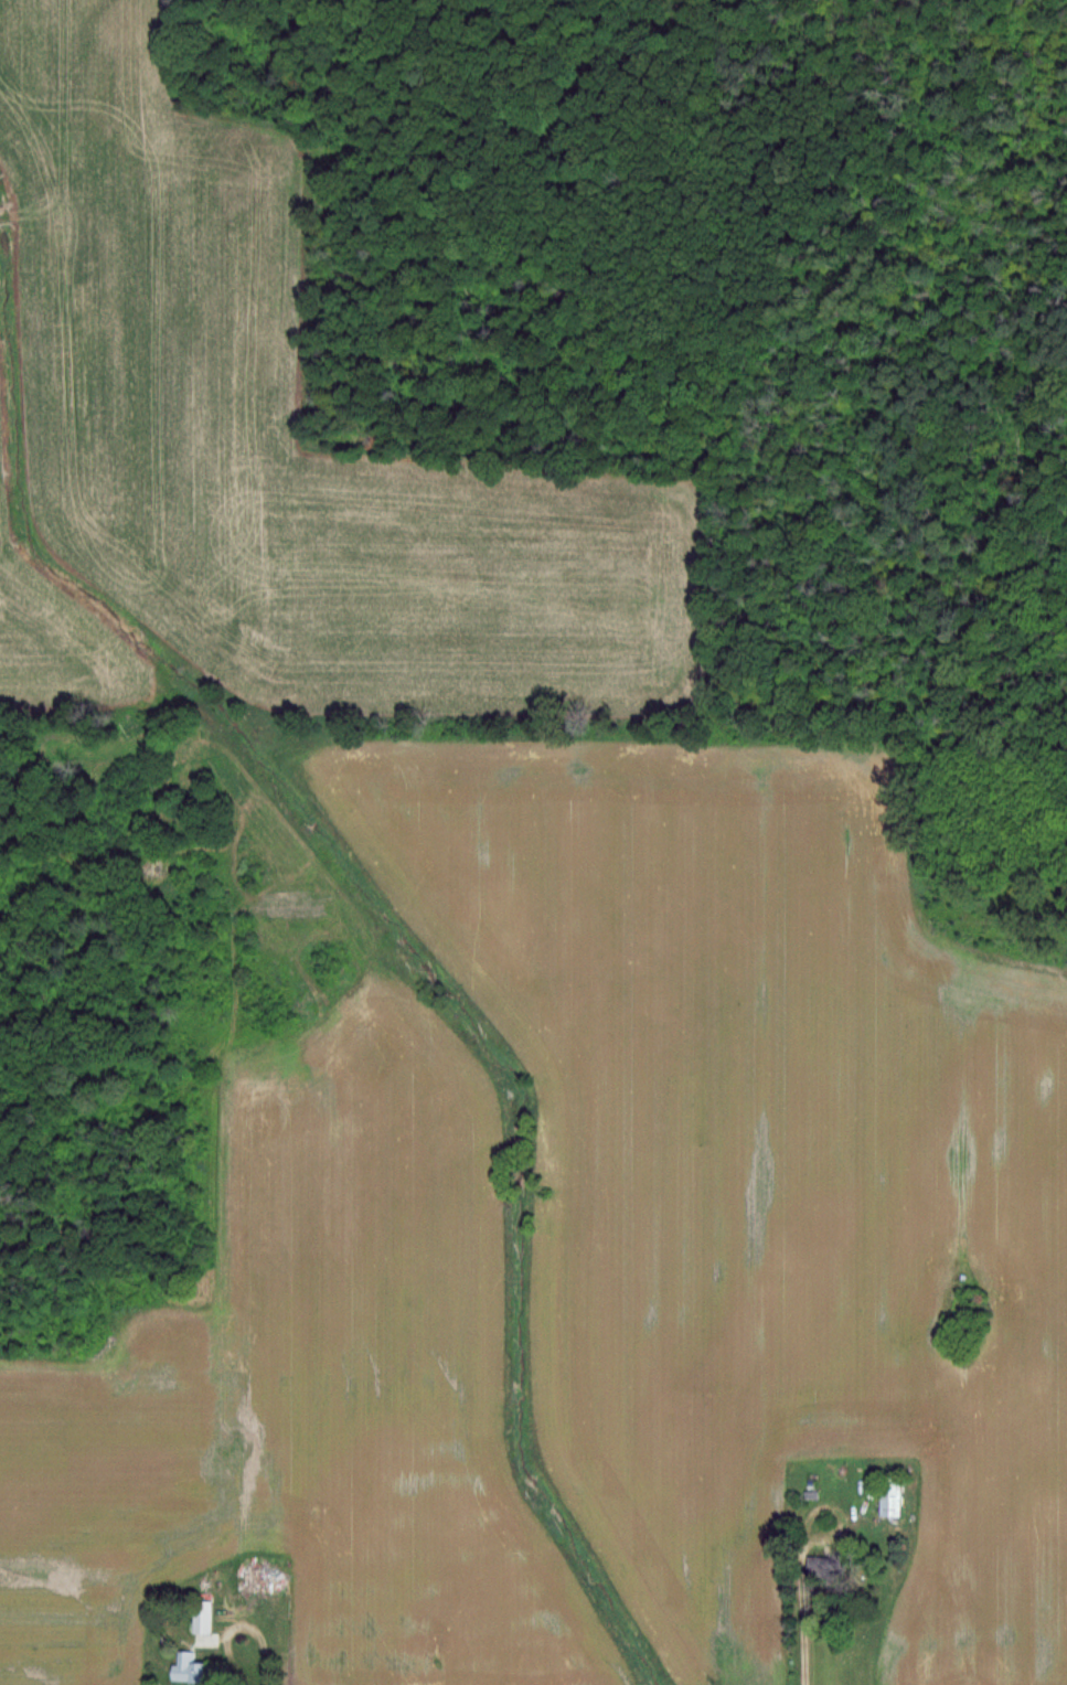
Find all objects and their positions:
building: (896, 1495)
building: (267, 1581)
road: (802, 1601)
building: (206, 1618)
building: (193, 1668)

